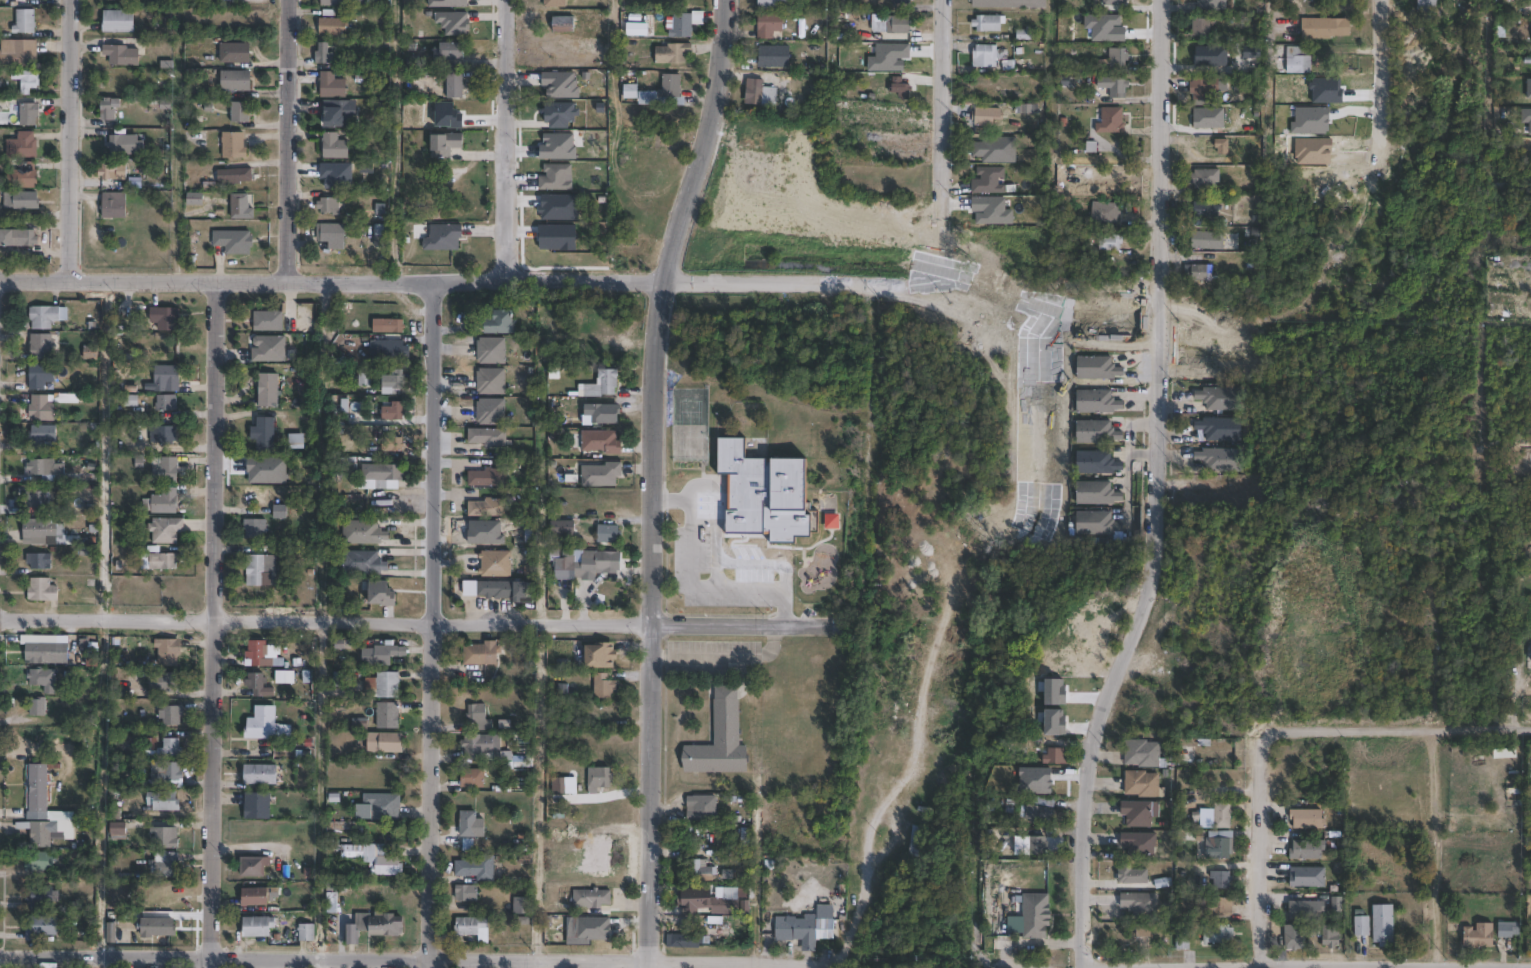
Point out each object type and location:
building: (123, 0)
building: (1117, 2)
building: (332, 3)
building: (899, 3)
building: (448, 4)
building: (554, 4)
building: (773, 4)
building: (1008, 4)
building: (1212, 5)
building: (1427, 6)
building: (1527, 7)
building: (23, 22)
building: (116, 22)
building: (989, 23)
building: (454, 25)
building: (563, 25)
building: (679, 25)
building: (768, 25)
building: (899, 25)
building: (330, 27)
building: (1201, 28)
building: (1325, 29)
building: (449, 52)
building: (234, 53)
building: (18, 54)
building: (672, 54)
building: (323, 55)
building: (120, 56)
building: (773, 56)
building: (991, 57)
building: (1118, 57)
building: (1298, 61)
building: (412, 64)
building: (25, 80)
building: (1068, 80)
road: (1381, 80)
building: (235, 81)
building: (330, 86)
building: (1119, 86)
building: (454, 87)
building: (670, 87)
building: (899, 88)
building: (1200, 89)
building: (630, 92)
building: (754, 96)
building: (107, 109)
building: (239, 113)
building: (338, 113)
building: (27, 114)
building: (989, 114)
road: (942, 115)
building: (1111, 122)
road: (71, 140)
road: (290, 140)
road: (510, 141)
building: (125, 145)
building: (444, 145)
building: (21, 146)
building: (234, 146)
building: (334, 147)
building: (1222, 147)
building: (995, 150)
building: (108, 173)
building: (556, 176)
building: (22, 177)
building: (234, 177)
building: (1206, 177)
building: (988, 181)
building: (194, 200)
building: (20, 201)
building: (329, 204)
building: (113, 205)
building: (242, 207)
building: (1206, 209)
building: (1105, 212)
building: (333, 234)
building: (380, 235)
building: (444, 237)
building: (24, 238)
building: (6, 239)
building: (1208, 239)
building: (1110, 241)
building: (233, 243)
building: (1202, 272)
road: (444, 282)
building: (43, 316)
building: (165, 317)
building: (268, 320)
building: (502, 322)
building: (388, 325)
building: (40, 346)
building: (270, 349)
building: (391, 350)
building: (491, 350)
building: (90, 352)
building: (1098, 367)
building: (40, 375)
building: (165, 378)
building: (365, 379)
building: (491, 381)
building: (609, 381)
building: (393, 383)
building: (268, 390)
building: (66, 397)
building: (1221, 398)
building: (1097, 401)
building: (166, 402)
building: (41, 408)
building: (393, 411)
building: (491, 411)
building: (603, 413)
building: (1221, 428)
building: (1097, 432)
building: (264, 434)
building: (41, 435)
building: (166, 435)
building: (488, 436)
building: (601, 441)
building: (392, 444)
road: (105, 450)
park: (769, 454)
building: (1220, 459)
building: (1097, 462)
building: (40, 470)
building: (165, 471)
building: (601, 474)
building: (390, 475)
building: (488, 477)
road: (654, 479)
road: (1157, 490)
building: (1097, 492)
building: (764, 493)
building: (162, 501)
building: (40, 502)
building: (487, 507)
building: (278, 510)
building: (1097, 524)
building: (166, 529)
building: (255, 529)
building: (39, 531)
building: (363, 532)
building: (609, 533)
road: (715, 556)
building: (159, 559)
building: (36, 560)
building: (364, 563)
building: (496, 564)
building: (590, 565)
building: (257, 571)
road: (716, 574)
road: (694, 587)
building: (471, 588)
building: (503, 589)
building: (42, 590)
building: (380, 592)
road: (414, 621)
road: (210, 624)
road: (430, 624)
building: (168, 651)
building: (40, 652)
building: (483, 653)
building: (256, 654)
building: (381, 655)
building: (604, 656)
building: (92, 657)
building: (284, 676)
building: (43, 679)
building: (164, 682)
building: (255, 683)
building: (383, 685)
building: (604, 686)
building: (37, 707)
building: (172, 716)
building: (387, 716)
building: (479, 717)
building: (265, 725)
road: (1346, 726)
road: (1481, 727)
building: (385, 742)
building: (720, 744)
building: (480, 746)
building: (171, 748)
building: (1143, 753)
building: (514, 756)
building: (1057, 756)
building: (168, 774)
building: (262, 774)
building: (1211, 776)
building: (472, 778)
building: (599, 779)
building: (1143, 784)
building: (38, 789)
road: (319, 790)
building: (163, 801)
building: (1042, 801)
building: (257, 805)
building: (384, 806)
building: (702, 806)
building: (1037, 814)
building: (1139, 814)
building: (1224, 815)
building: (1310, 819)
building: (468, 824)
building: (117, 828)
building: (38, 833)
building: (165, 838)
building: (1001, 841)
building: (1034, 842)
building: (1140, 844)
building: (1221, 845)
road: (1432, 847)
road: (1262, 849)
building: (1310, 850)
building: (39, 862)
building: (382, 862)
building: (167, 865)
building: (253, 867)
building: (477, 868)
building: (699, 871)
building: (1133, 875)
building: (1309, 877)
building: (1222, 880)
building: (467, 894)
building: (40, 897)
building: (259, 897)
building: (592, 898)
building: (717, 901)
building: (332, 903)
building: (1142, 905)
building: (523, 906)
building: (1216, 907)
building: (1308, 911)
building: (1037, 916)
building: (374, 926)
building: (1363, 926)
building: (1385, 926)
building: (257, 927)
building: (40, 928)
building: (157, 928)
building: (473, 928)
building: (808, 928)
building: (1143, 930)
building: (1507, 931)
building: (306, 933)
building: (1218, 934)
building: (701, 935)
building: (1481, 936)
building: (1332, 937)
building: (1183, 938)
building: (1296, 940)
road: (406, 960)
road: (1391, 967)

